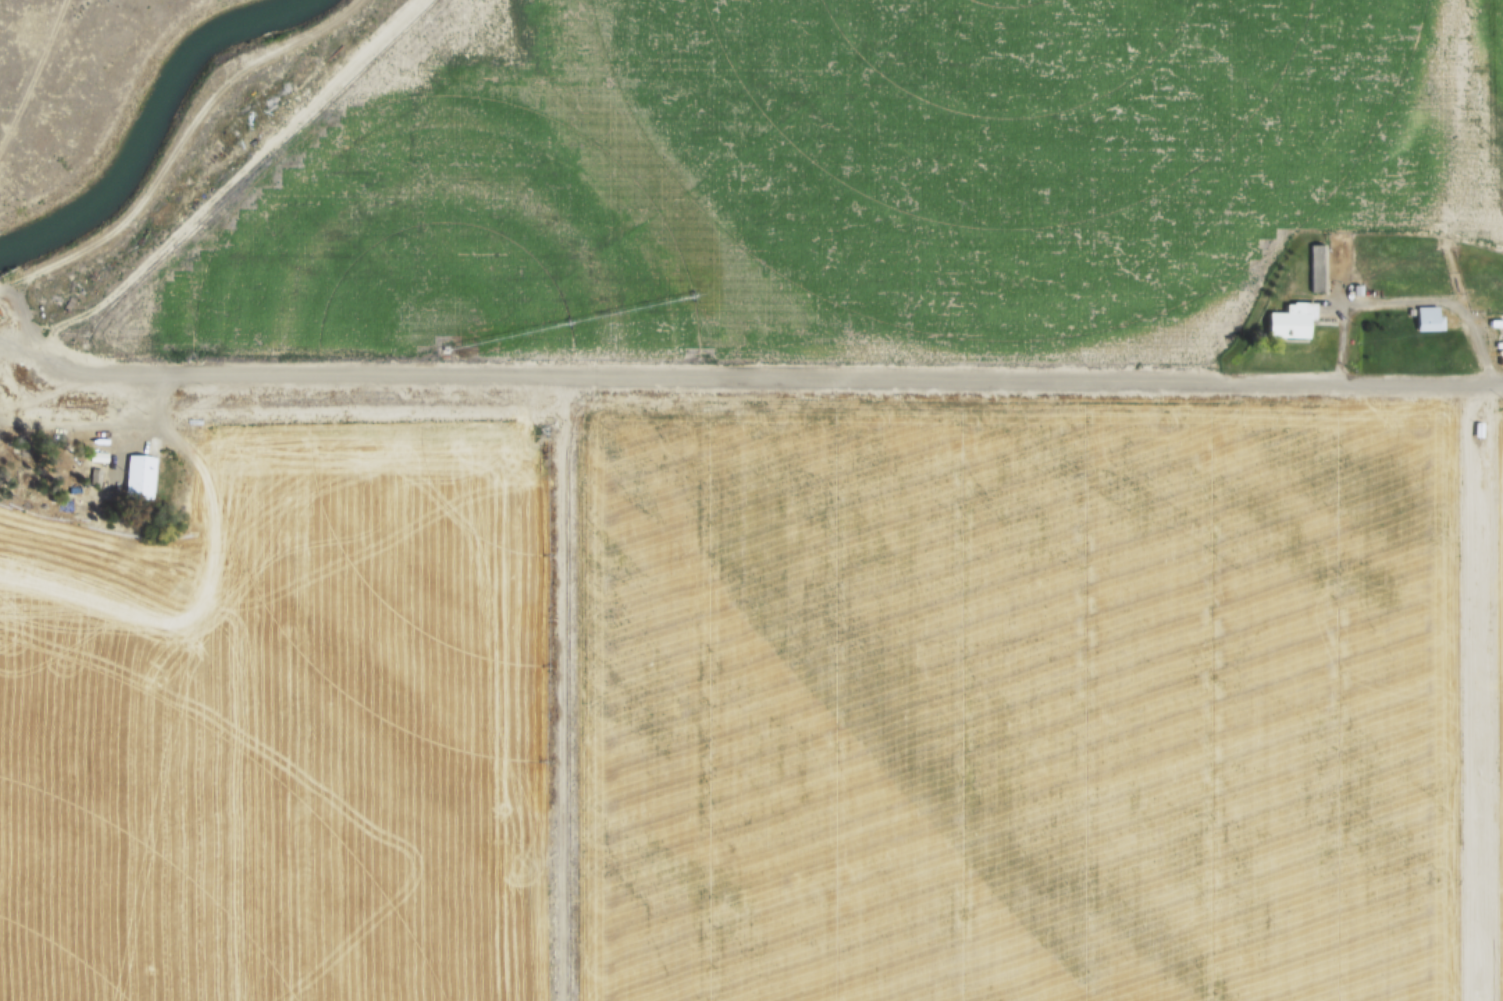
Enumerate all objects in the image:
road: (70, 16)
road: (37, 79)
road: (118, 108)
road: (175, 159)
road: (229, 180)
building: (1318, 268)
building: (1280, 288)
building: (1358, 291)
road: (1442, 301)
building: (1412, 312)
road: (1342, 316)
building: (1429, 320)
building: (1294, 321)
road: (14, 340)
road: (15, 353)
road: (761, 381)
road: (365, 414)
road: (17, 420)
road: (86, 428)
building: (1479, 430)
building: (101, 457)
building: (144, 476)
road: (1482, 708)

